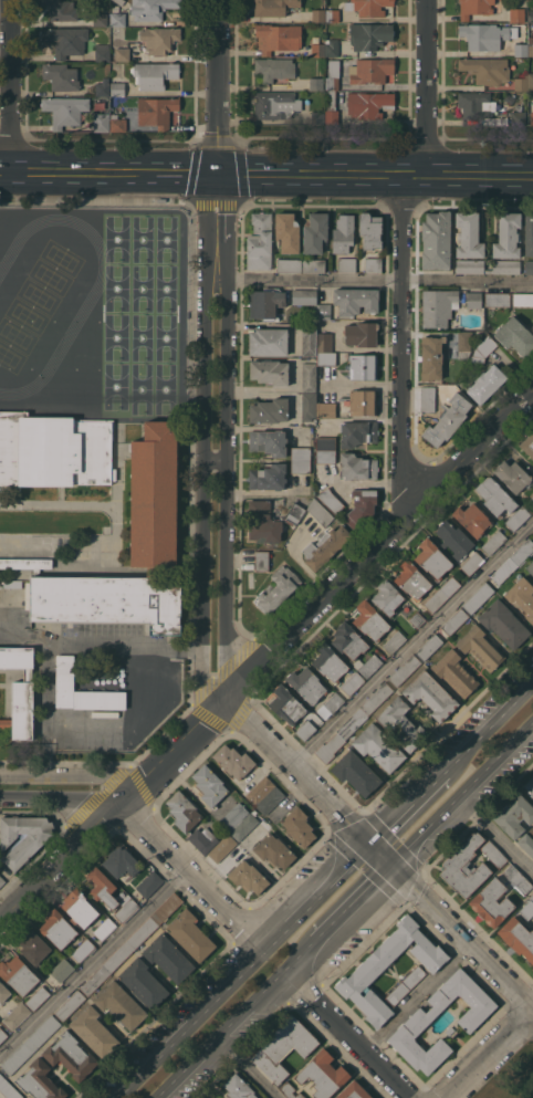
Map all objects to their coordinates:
building: (119, 1)
building: (273, 7)
building: (368, 7)
building: (478, 7)
building: (151, 8)
building: (61, 9)
building: (318, 14)
building: (516, 14)
building: (332, 15)
building: (531, 15)
building: (117, 18)
building: (100, 19)
building: (369, 34)
building: (485, 34)
building: (278, 36)
building: (66, 40)
building: (158, 40)
building: (531, 46)
building: (332, 48)
building: (520, 49)
building: (318, 50)
building: (102, 52)
building: (122, 53)
building: (274, 69)
building: (485, 69)
building: (370, 70)
building: (154, 74)
building: (333, 74)
building: (60, 75)
building: (531, 81)
building: (316, 83)
building: (521, 83)
road: (12, 85)
building: (117, 85)
road: (218, 86)
road: (425, 86)
building: (102, 87)
building: (274, 104)
building: (369, 104)
building: (475, 104)
building: (331, 108)
building: (64, 109)
building: (156, 111)
building: (317, 117)
building: (518, 117)
building: (532, 117)
building: (101, 122)
building: (117, 123)
road: (6, 169)
road: (53, 170)
road: (156, 171)
traffic signals: (218, 172)
road: (265, 172)
road: (333, 172)
road: (377, 174)
road: (412, 174)
road: (461, 175)
road: (515, 176)
building: (370, 230)
building: (286, 231)
building: (314, 232)
building: (343, 232)
building: (529, 233)
building: (468, 234)
building: (506, 234)
building: (436, 240)
building: (259, 241)
building: (313, 264)
building: (346, 264)
building: (373, 264)
building: (289, 265)
building: (470, 265)
building: (505, 266)
building: (529, 266)
road: (380, 280)
building: (304, 296)
building: (498, 299)
building: (522, 299)
building: (355, 300)
building: (473, 300)
building: (265, 303)
building: (438, 306)
building: (323, 311)
building: (532, 326)
building: (360, 333)
building: (515, 336)
building: (309, 339)
building: (268, 342)
building: (324, 342)
building: (463, 344)
building: (483, 348)
road: (400, 351)
building: (431, 357)
building: (326, 358)
building: (363, 366)
building: (270, 372)
building: (309, 376)
building: (485, 383)
building: (446, 387)
building: (427, 398)
building: (362, 401)
building: (309, 405)
building: (325, 409)
building: (269, 410)
building: (448, 419)
building: (357, 432)
road: (227, 435)
road: (200, 439)
building: (268, 441)
building: (325, 443)
building: (527, 445)
building: (53, 450)
building: (300, 453)
road: (512, 453)
building: (325, 456)
building: (357, 466)
building: (300, 467)
building: (512, 474)
building: (268, 477)
building: (494, 496)
building: (330, 500)
building: (529, 502)
building: (153, 503)
building: (360, 506)
building: (320, 512)
building: (518, 517)
building: (472, 519)
building: (269, 520)
building: (453, 538)
building: (493, 542)
building: (325, 546)
road: (379, 546)
building: (523, 552)
building: (431, 558)
building: (261, 560)
building: (472, 562)
building: (27, 563)
building: (530, 566)
building: (504, 571)
building: (411, 578)
building: (12, 583)
building: (450, 585)
building: (276, 588)
building: (522, 596)
building: (387, 597)
building: (478, 597)
building: (435, 599)
building: (417, 619)
building: (369, 620)
building: (454, 621)
building: (503, 623)
building: (394, 641)
road: (98, 644)
road: (411, 644)
building: (429, 647)
building: (480, 647)
building: (354, 648)
building: (17, 657)
building: (328, 661)
building: (405, 670)
building: (64, 672)
building: (454, 672)
building: (28, 675)
building: (353, 683)
building: (306, 684)
building: (430, 694)
building: (377, 698)
building: (286, 704)
building: (330, 704)
building: (22, 710)
road: (497, 718)
building: (6, 722)
road: (87, 722)
building: (352, 722)
building: (400, 723)
building: (305, 730)
building: (378, 746)
building: (330, 747)
road: (175, 751)
building: (233, 761)
building: (355, 772)
road: (67, 780)
building: (530, 784)
building: (209, 785)
building: (259, 791)
road: (461, 792)
building: (270, 799)
road: (415, 799)
road: (62, 802)
building: (182, 811)
building: (513, 814)
building: (233, 816)
building: (243, 826)
building: (299, 826)
building: (22, 837)
building: (202, 839)
road: (493, 839)
building: (526, 844)
traffic signals: (370, 845)
building: (222, 848)
building: (274, 850)
building: (493, 853)
road: (379, 854)
building: (121, 861)
road: (62, 864)
traffic signals: (390, 865)
building: (464, 867)
building: (248, 876)
road: (192, 877)
building: (518, 878)
building: (1, 880)
building: (149, 883)
building: (102, 887)
road: (315, 898)
road: (353, 901)
building: (491, 902)
building: (79, 908)
building: (125, 908)
building: (166, 908)
building: (527, 908)
building: (58, 928)
building: (104, 928)
building: (143, 932)
building: (190, 934)
building: (518, 937)
building: (34, 947)
building: (83, 950)
road: (299, 954)
building: (118, 955)
building: (168, 958)
road: (94, 964)
building: (532, 965)
building: (62, 969)
building: (366, 971)
building: (18, 974)
building: (95, 980)
building: (143, 982)
building: (405, 984)
building: (3, 992)
building: (38, 996)
road: (416, 997)
building: (70, 1004)
building: (121, 1004)
building: (17, 1015)
building: (416, 1023)
road: (188, 1025)
building: (94, 1031)
building: (2, 1034)
road: (219, 1034)
road: (347, 1034)
building: (31, 1044)
building: (283, 1046)
road: (492, 1054)
building: (71, 1055)
road: (245, 1067)
park: (505, 1068)
building: (323, 1074)
building: (40, 1080)
building: (238, 1087)
building: (8, 1088)
building: (290, 1090)
building: (353, 1091)
building: (208, 1097)

